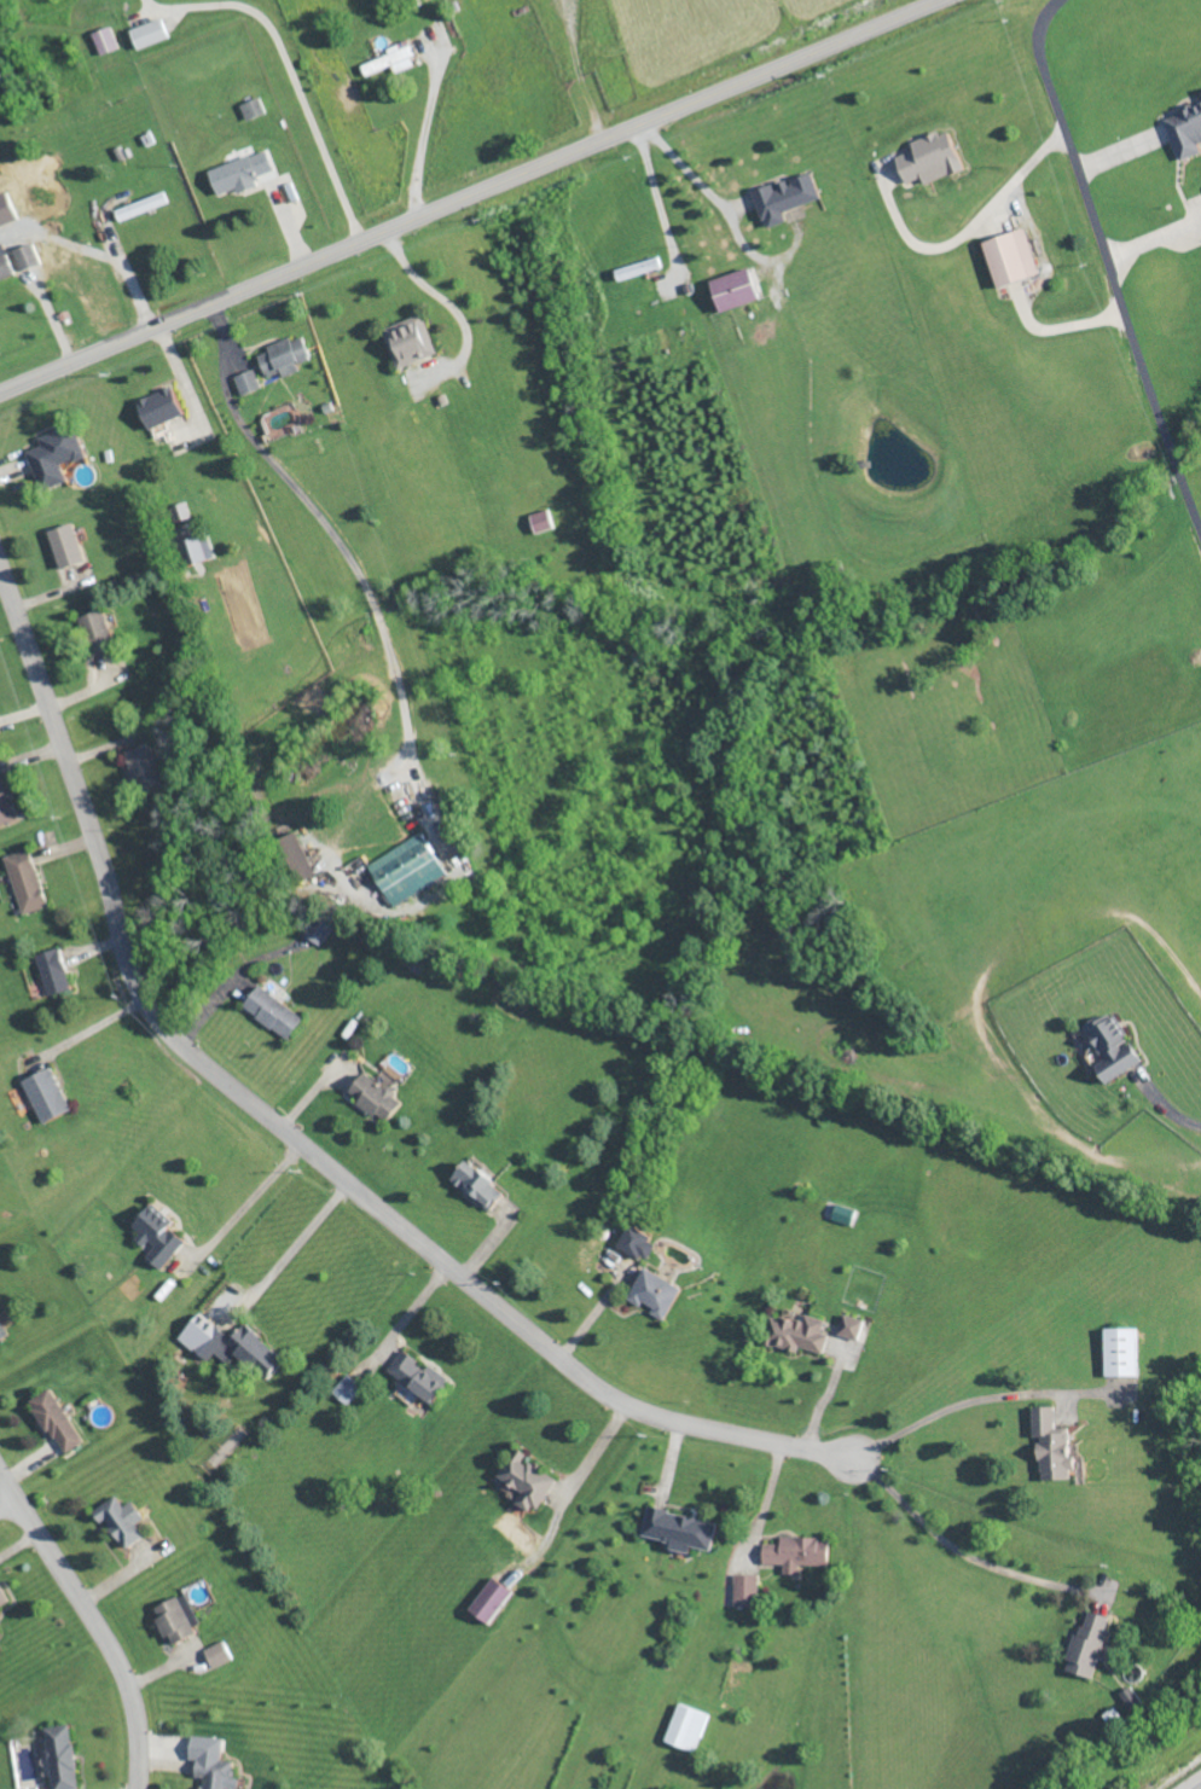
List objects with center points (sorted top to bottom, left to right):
building: (150, 31)
building: (106, 40)
building: (393, 58)
road: (290, 71)
road: (578, 71)
building: (1200, 94)
building: (1187, 129)
road: (425, 138)
building: (932, 157)
building: (242, 172)
road: (687, 172)
road: (468, 196)
road: (657, 197)
building: (785, 197)
building: (141, 205)
road: (936, 248)
building: (27, 255)
building: (1011, 256)
road: (1109, 262)
building: (5, 266)
road: (1048, 269)
building: (736, 289)
road: (452, 307)
building: (411, 339)
road: (226, 343)
building: (285, 355)
building: (248, 382)
building: (159, 406)
building: (54, 454)
building: (180, 511)
building: (544, 521)
building: (65, 545)
building: (196, 548)
road: (370, 597)
building: (97, 631)
building: (144, 768)
building: (4, 805)
building: (300, 854)
building: (407, 869)
building: (25, 881)
building: (318, 929)
building: (53, 971)
building: (273, 1011)
building: (1114, 1047)
building: (47, 1094)
building: (376, 1096)
road: (1166, 1110)
road: (300, 1148)
building: (480, 1185)
road: (255, 1204)
building: (159, 1236)
building: (638, 1243)
road: (295, 1250)
building: (655, 1293)
building: (852, 1326)
building: (2, 1331)
building: (797, 1334)
building: (246, 1351)
building: (1122, 1352)
building: (419, 1376)
building: (348, 1389)
road: (982, 1401)
building: (58, 1421)
building: (1054, 1445)
road: (596, 1456)
building: (529, 1480)
road: (5, 1500)
building: (123, 1520)
building: (681, 1530)
building: (796, 1552)
road: (969, 1555)
building: (747, 1591)
building: (4, 1597)
building: (492, 1601)
building: (179, 1619)
road: (91, 1626)
building: (0, 1634)
building: (1090, 1644)
building: (219, 1655)
building: (687, 1726)
building: (63, 1756)
building: (214, 1762)
road: (1197, 1787)

